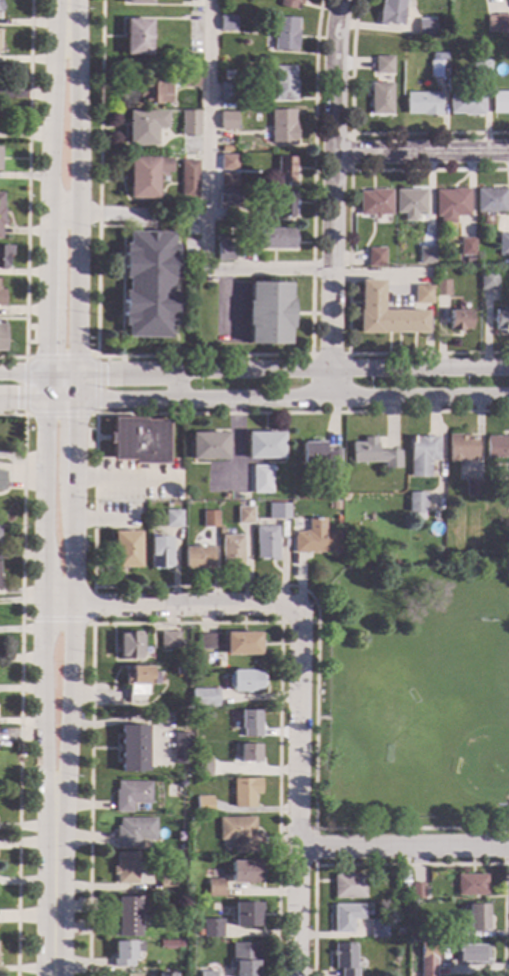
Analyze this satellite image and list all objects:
building: (136, 2)
building: (289, 4)
building: (390, 12)
road: (67, 15)
building: (227, 23)
building: (497, 23)
building: (425, 28)
building: (439, 30)
building: (284, 34)
building: (136, 37)
building: (439, 45)
building: (382, 65)
building: (437, 69)
building: (480, 70)
building: (189, 80)
building: (283, 83)
building: (227, 91)
building: (155, 92)
building: (380, 98)
building: (500, 102)
building: (465, 103)
building: (421, 104)
building: (227, 121)
building: (189, 123)
building: (143, 126)
building: (282, 127)
road: (361, 133)
road: (349, 153)
road: (420, 154)
building: (227, 162)
building: (285, 169)
building: (145, 176)
building: (188, 179)
building: (227, 180)
road: (27, 191)
road: (207, 195)
building: (228, 198)
road: (331, 198)
road: (50, 200)
building: (490, 201)
building: (285, 203)
building: (374, 203)
building: (409, 203)
building: (451, 204)
building: (1, 211)
road: (122, 214)
building: (275, 238)
parking lot: (191, 240)
building: (504, 243)
building: (466, 247)
building: (225, 251)
building: (4, 255)
building: (425, 256)
building: (375, 258)
building: (469, 260)
road: (347, 264)
road: (176, 270)
road: (120, 280)
building: (487, 280)
building: (148, 285)
building: (441, 288)
building: (422, 295)
building: (1, 298)
building: (269, 313)
building: (385, 314)
building: (458, 320)
building: (501, 320)
road: (33, 334)
building: (1, 337)
traffic signals: (48, 352)
road: (328, 355)
road: (202, 356)
road: (254, 371)
traffic signals: (106, 374)
road: (173, 386)
road: (254, 398)
traffic signals: (15, 400)
road: (95, 413)
road: (77, 414)
traffic signals: (77, 419)
building: (138, 441)
building: (264, 445)
building: (209, 446)
building: (497, 447)
building: (461, 448)
building: (312, 453)
building: (373, 454)
building: (423, 456)
building: (333, 460)
building: (262, 479)
building: (1, 482)
building: (474, 488)
building: (506, 491)
building: (417, 503)
building: (336, 506)
building: (279, 512)
building: (244, 516)
building: (172, 519)
building: (209, 519)
building: (316, 539)
building: (266, 543)
building: (126, 550)
building: (231, 552)
building: (159, 553)
building: (198, 558)
road: (44, 587)
road: (123, 587)
road: (91, 604)
road: (170, 605)
road: (57, 619)
road: (186, 623)
road: (298, 623)
building: (168, 640)
building: (207, 642)
building: (241, 644)
building: (129, 646)
building: (179, 671)
building: (246, 681)
road: (20, 683)
building: (138, 683)
building: (203, 698)
building: (250, 724)
park: (438, 724)
building: (132, 748)
building: (181, 748)
building: (249, 753)
building: (202, 767)
building: (244, 793)
road: (298, 793)
building: (130, 795)
building: (203, 804)
building: (190, 819)
road: (314, 829)
building: (134, 832)
building: (239, 834)
road: (403, 848)
road: (504, 849)
road: (409, 865)
building: (125, 868)
building: (244, 872)
building: (166, 879)
building: (214, 884)
building: (405, 884)
building: (471, 885)
road: (53, 887)
building: (348, 887)
building: (417, 891)
building: (245, 915)
building: (127, 916)
building: (345, 917)
building: (476, 918)
building: (211, 928)
building: (377, 929)
building: (441, 929)
building: (400, 932)
building: (122, 954)
building: (469, 954)
building: (243, 959)
building: (427, 959)
building: (343, 960)
building: (206, 973)
building: (164, 974)

